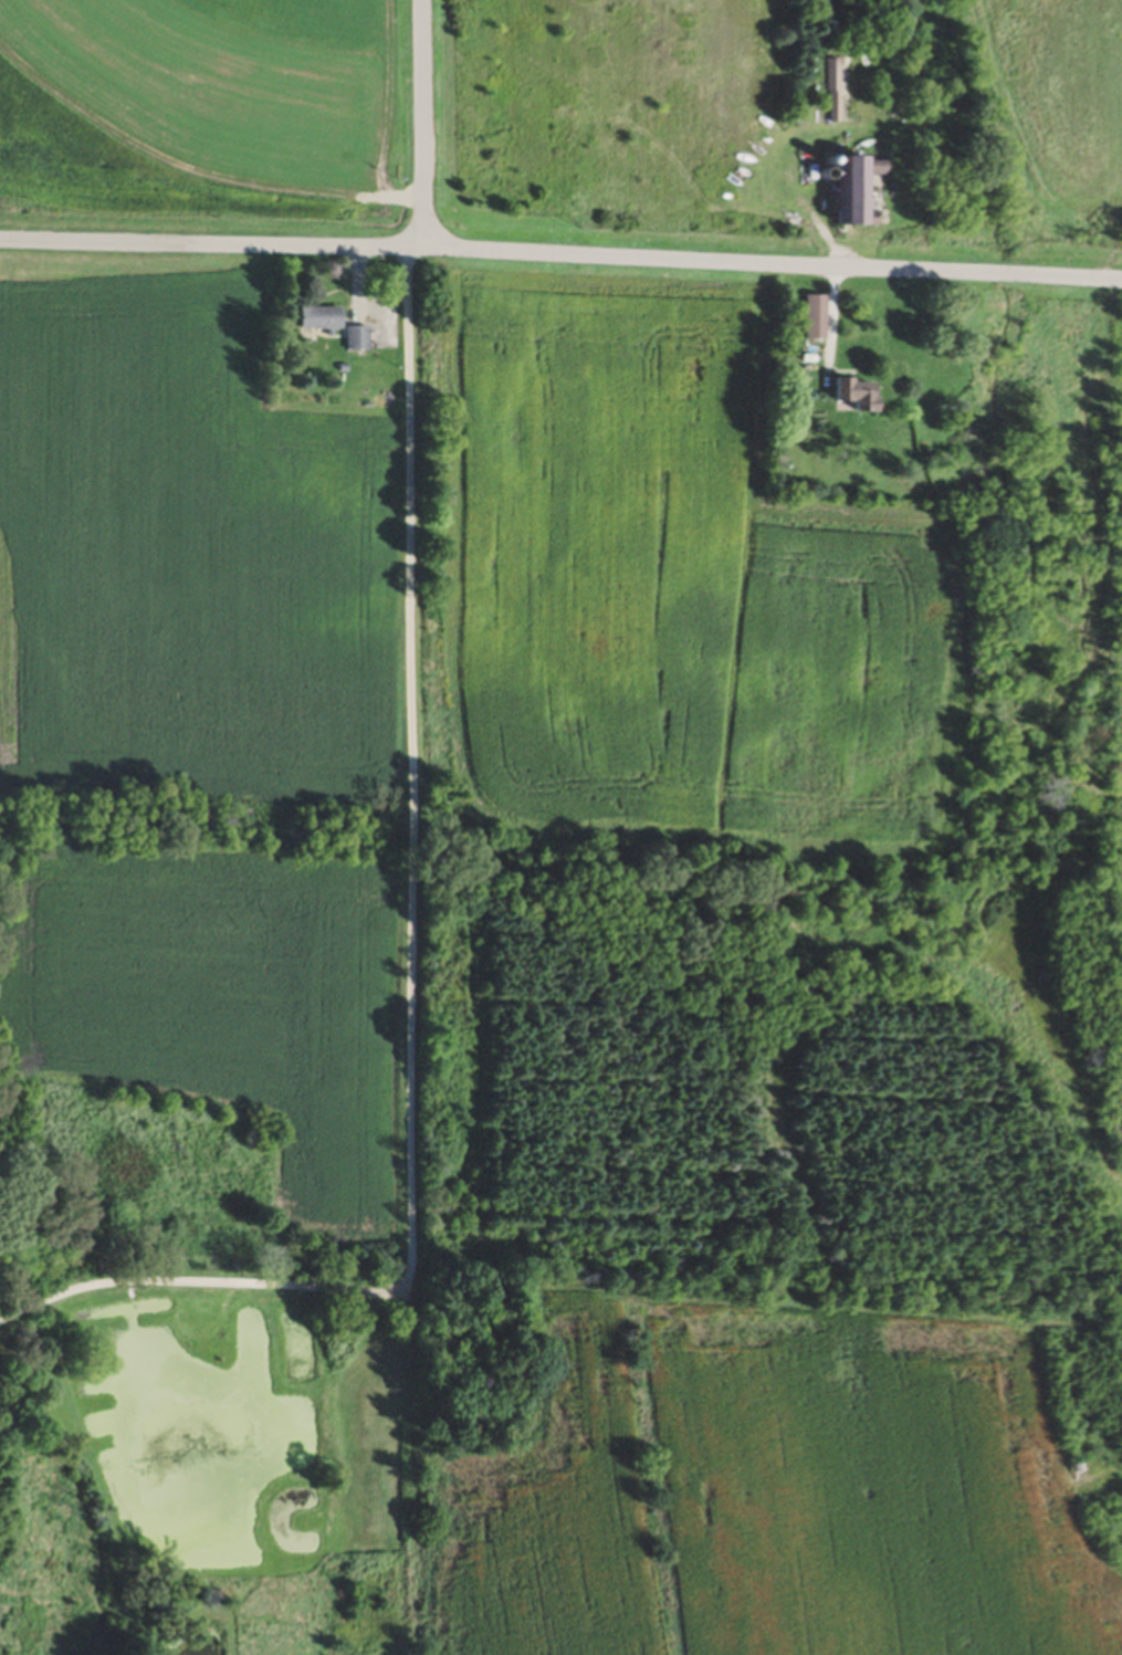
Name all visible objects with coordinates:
building: (827, 93)
road: (426, 126)
building: (870, 169)
building: (843, 197)
road: (205, 248)
road: (418, 253)
road: (774, 268)
building: (808, 318)
building: (315, 321)
building: (353, 341)
building: (846, 398)
road: (416, 768)
road: (205, 1285)

